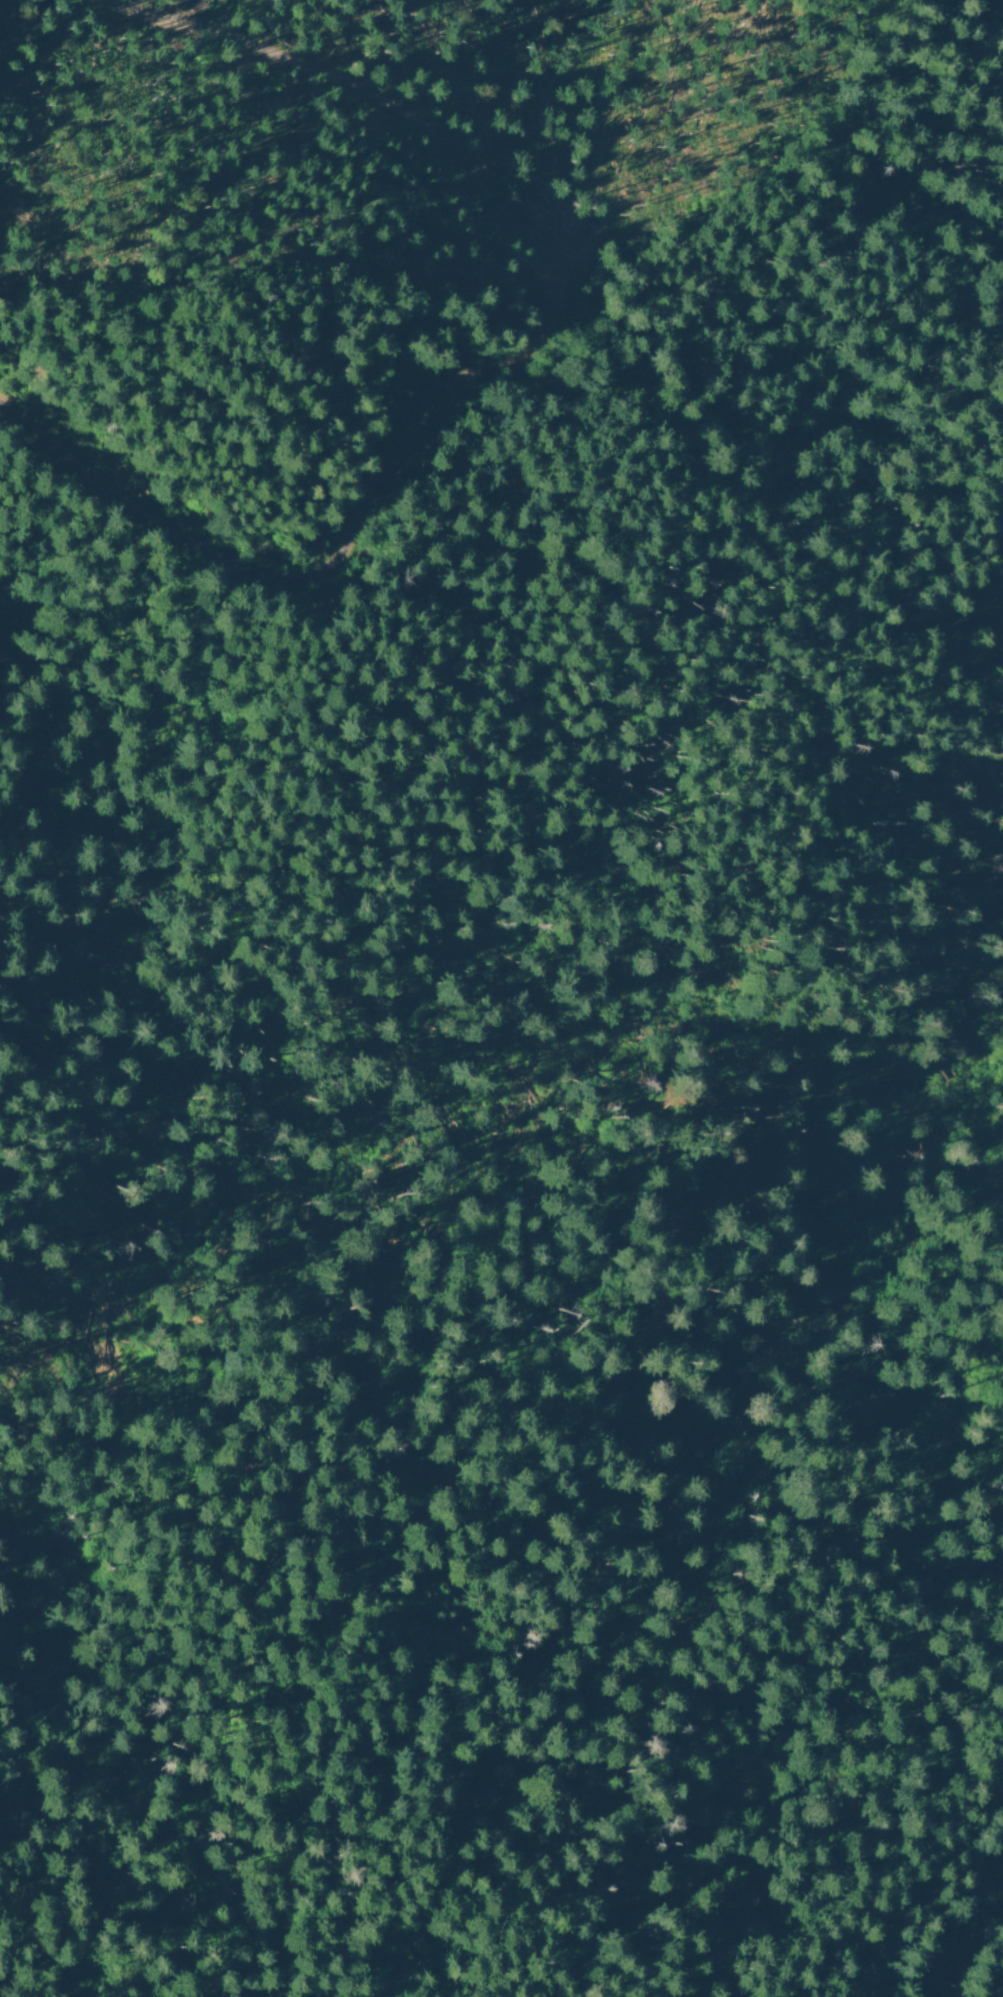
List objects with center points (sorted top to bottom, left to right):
road: (442, 325)
road: (318, 1804)
road: (862, 1898)
road: (584, 1986)

